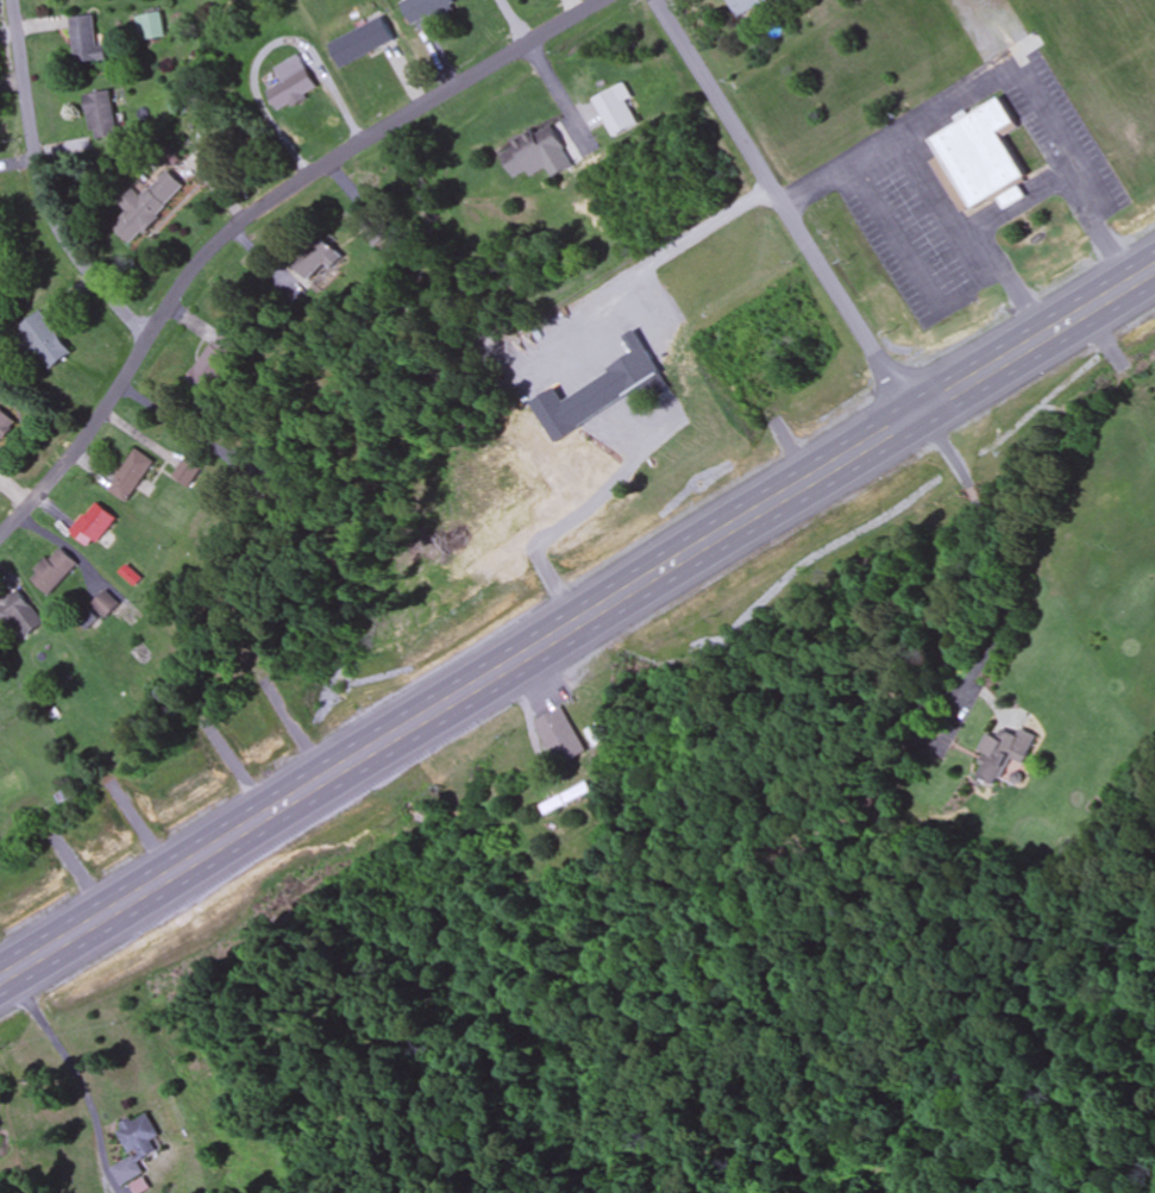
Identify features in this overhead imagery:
building: (745, 5)
building: (426, 10)
building: (151, 26)
building: (88, 40)
building: (363, 42)
building: (293, 83)
building: (616, 109)
building: (103, 114)
road: (358, 146)
building: (533, 150)
building: (980, 159)
road: (44, 186)
building: (145, 207)
road: (785, 209)
building: (377, 231)
building: (319, 259)
building: (46, 341)
building: (216, 363)
building: (6, 425)
road: (84, 444)
building: (189, 473)
building: (132, 476)
building: (94, 525)
building: (54, 571)
building: (18, 614)
road: (577, 626)
building: (603, 734)
building: (563, 735)
building: (1004, 753)
building: (68, 799)
building: (570, 799)
road: (76, 1069)
building: (138, 1147)

